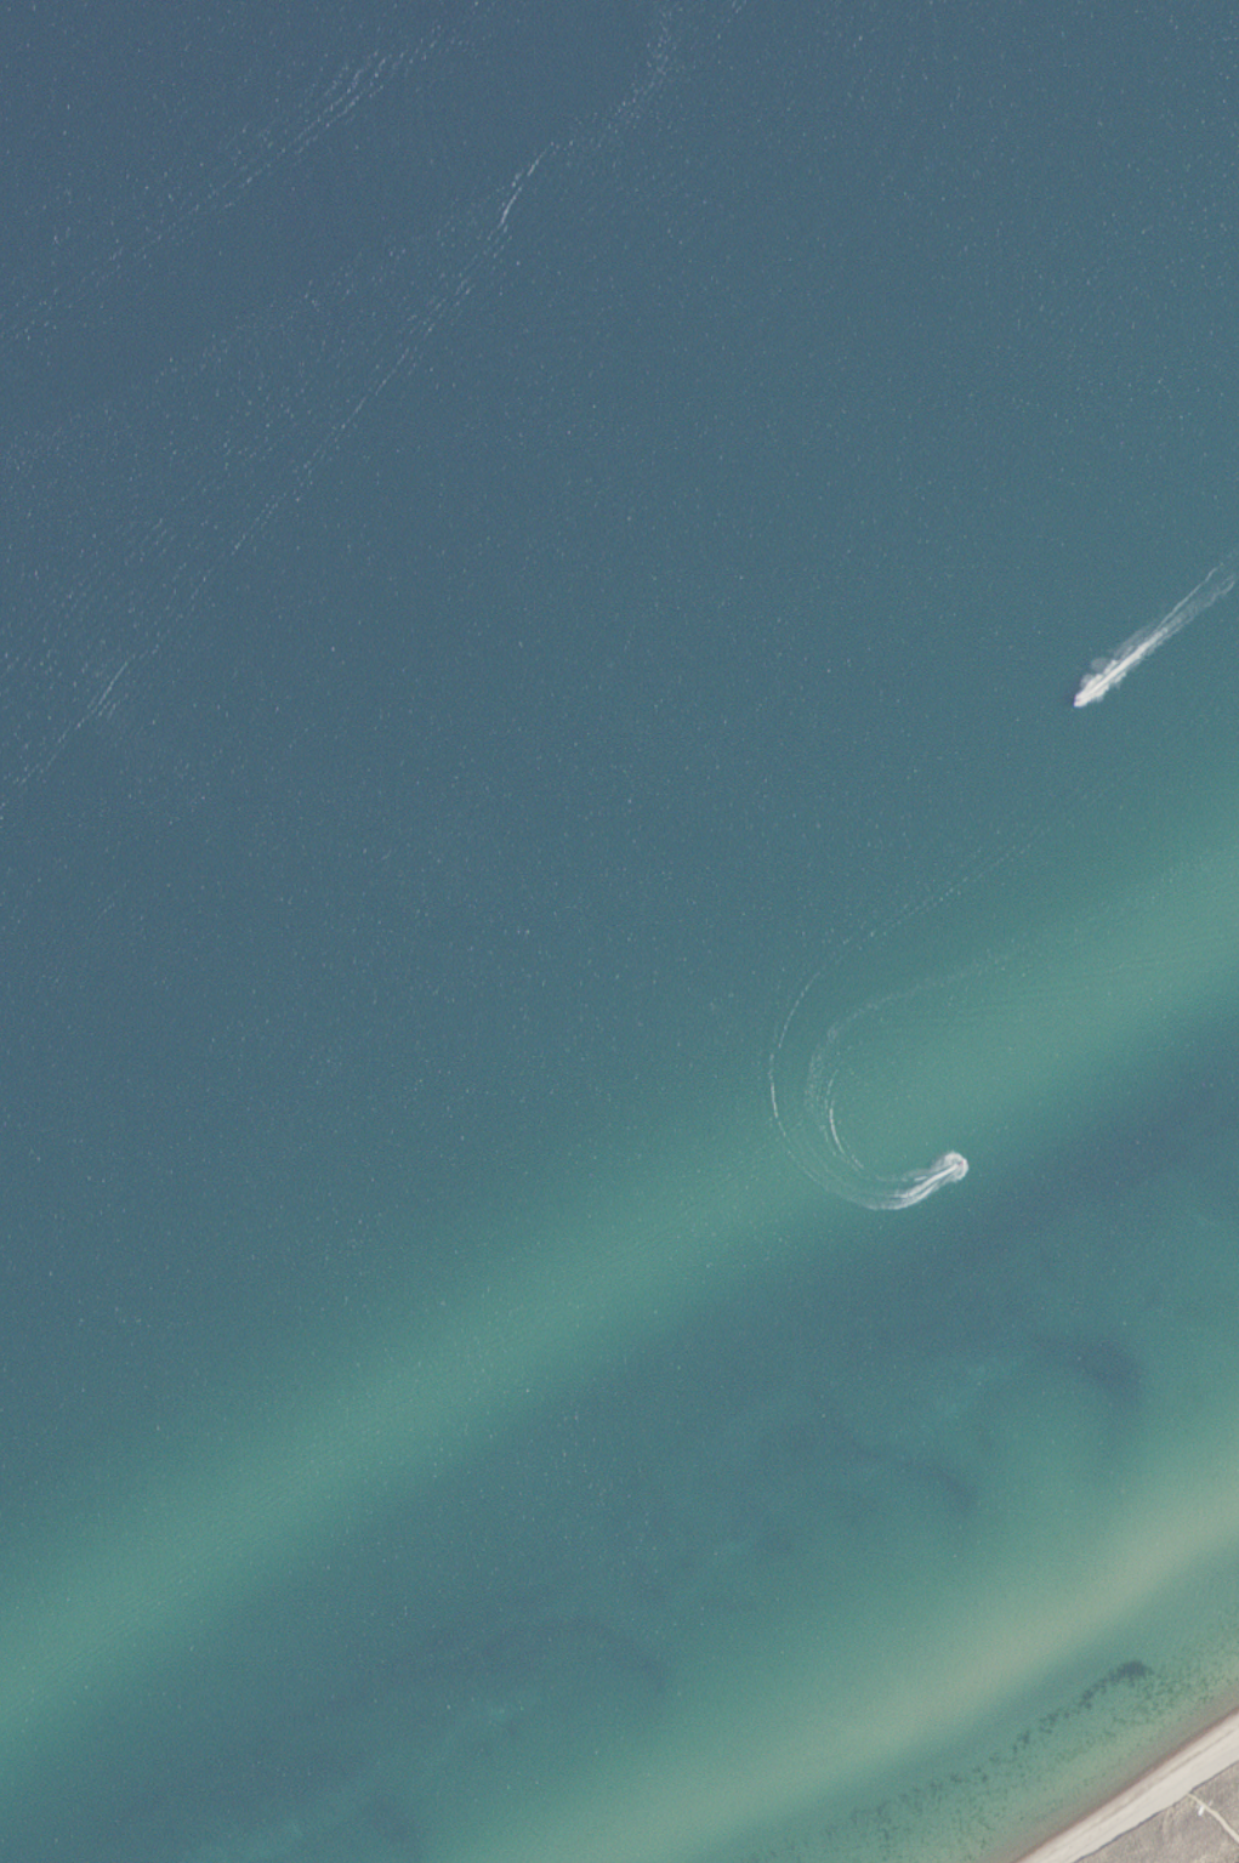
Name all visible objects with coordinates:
road: (1221, 1816)

